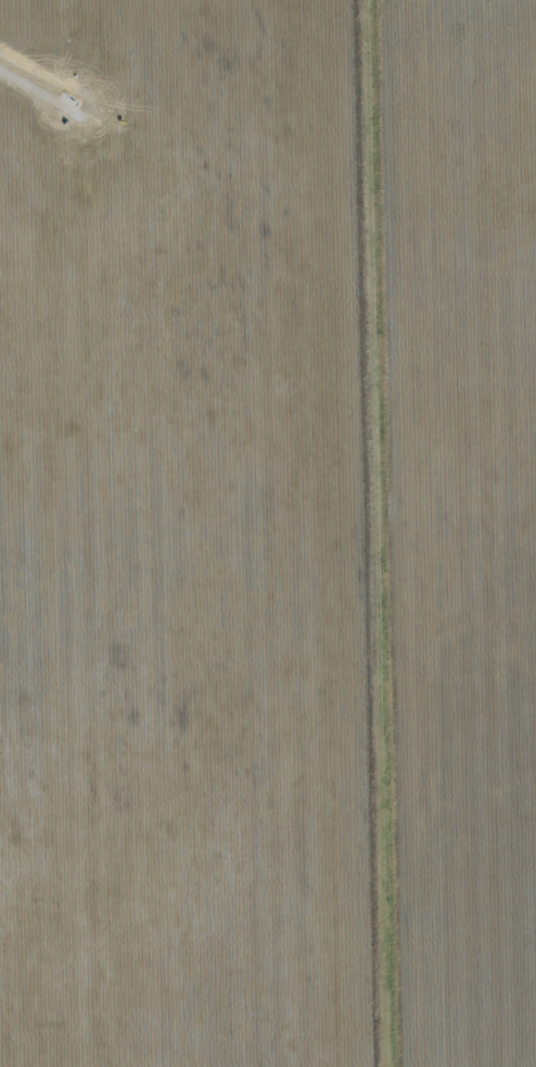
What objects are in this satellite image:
road: (385, 533)

